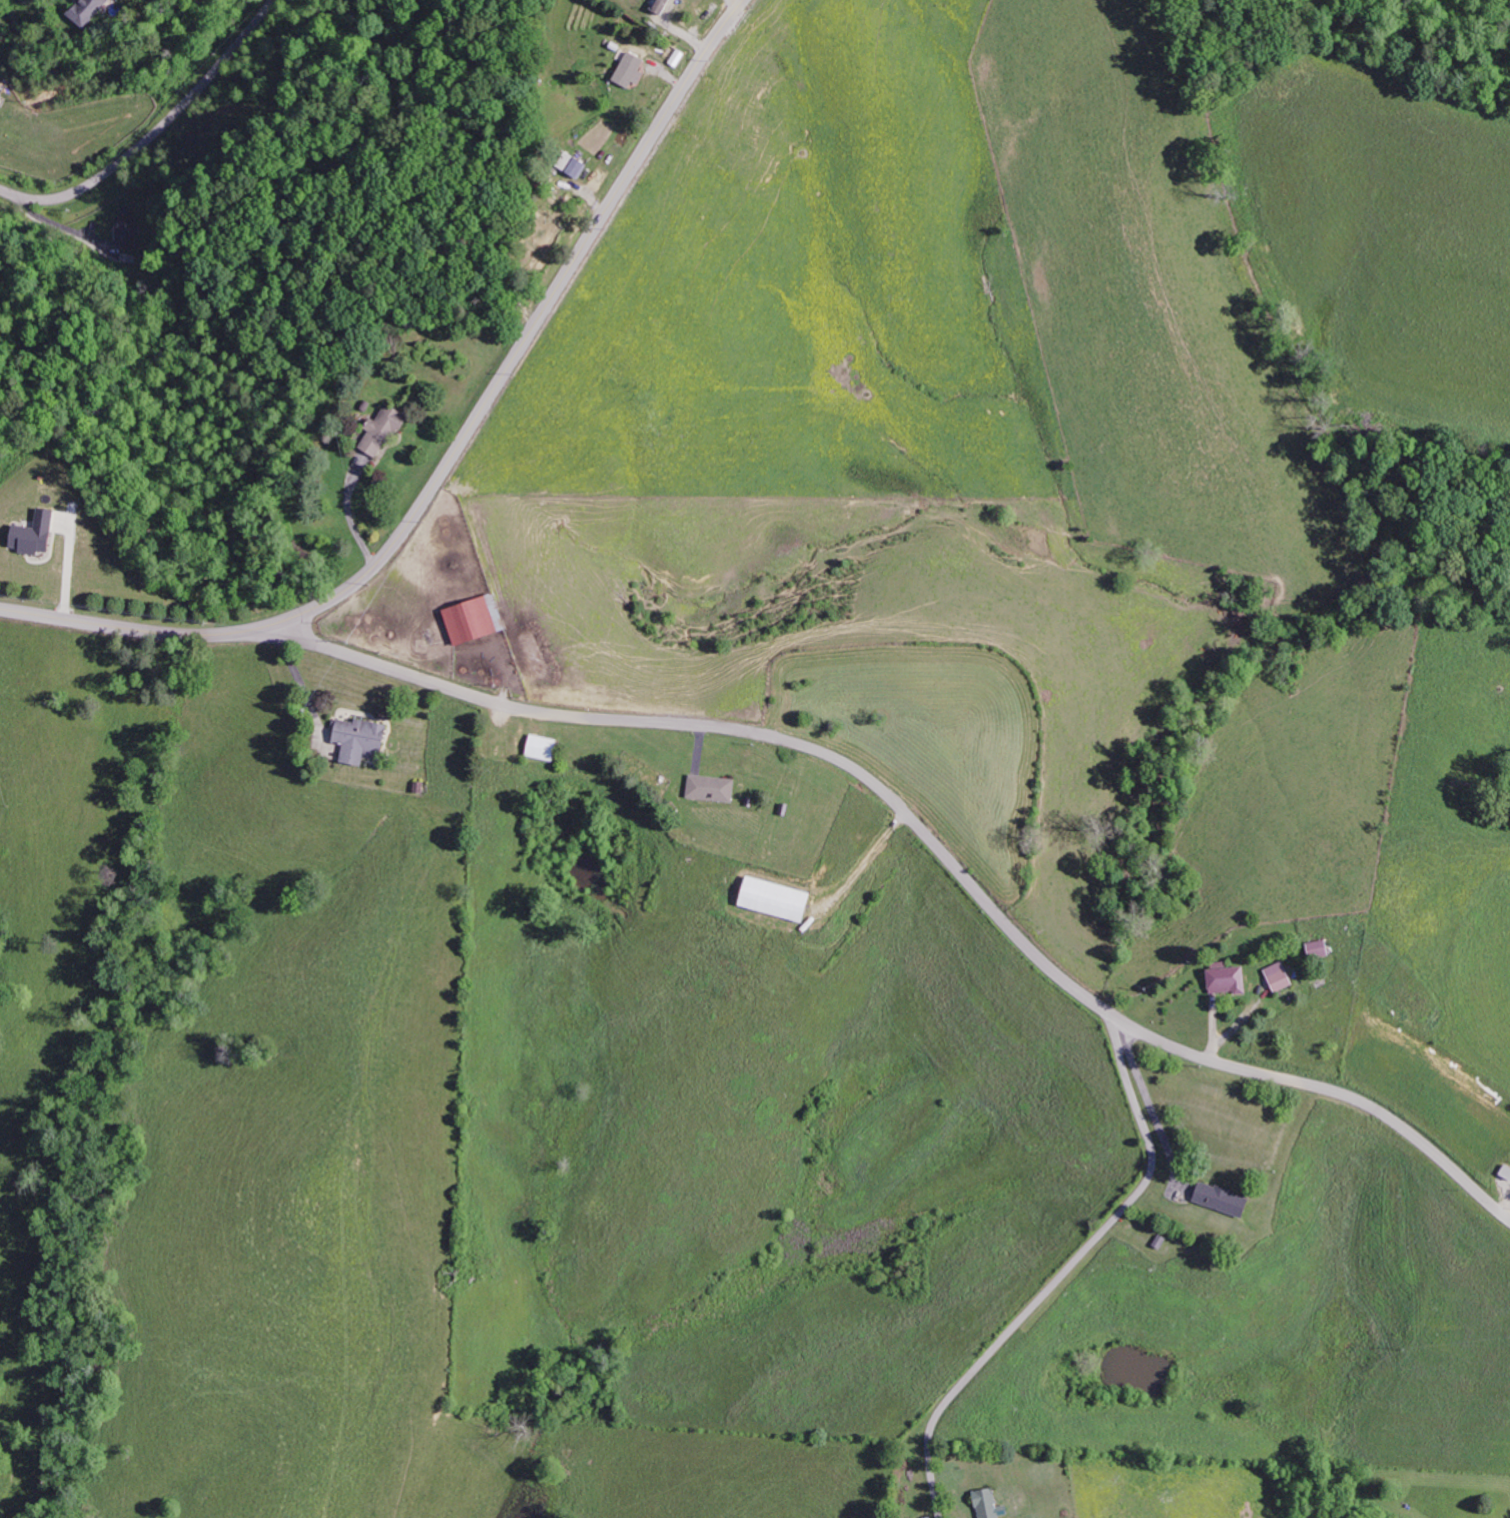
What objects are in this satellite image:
building: (90, 11)
building: (632, 70)
building: (1, 98)
road: (149, 129)
building: (580, 168)
building: (130, 236)
building: (386, 431)
road: (455, 451)
building: (39, 533)
building: (469, 617)
road: (287, 632)
building: (355, 738)
building: (707, 787)
road: (943, 852)
building: (769, 898)
building: (1313, 948)
building: (1274, 976)
building: (1221, 979)
building: (1216, 1198)
road: (1066, 1271)
building: (985, 1504)

